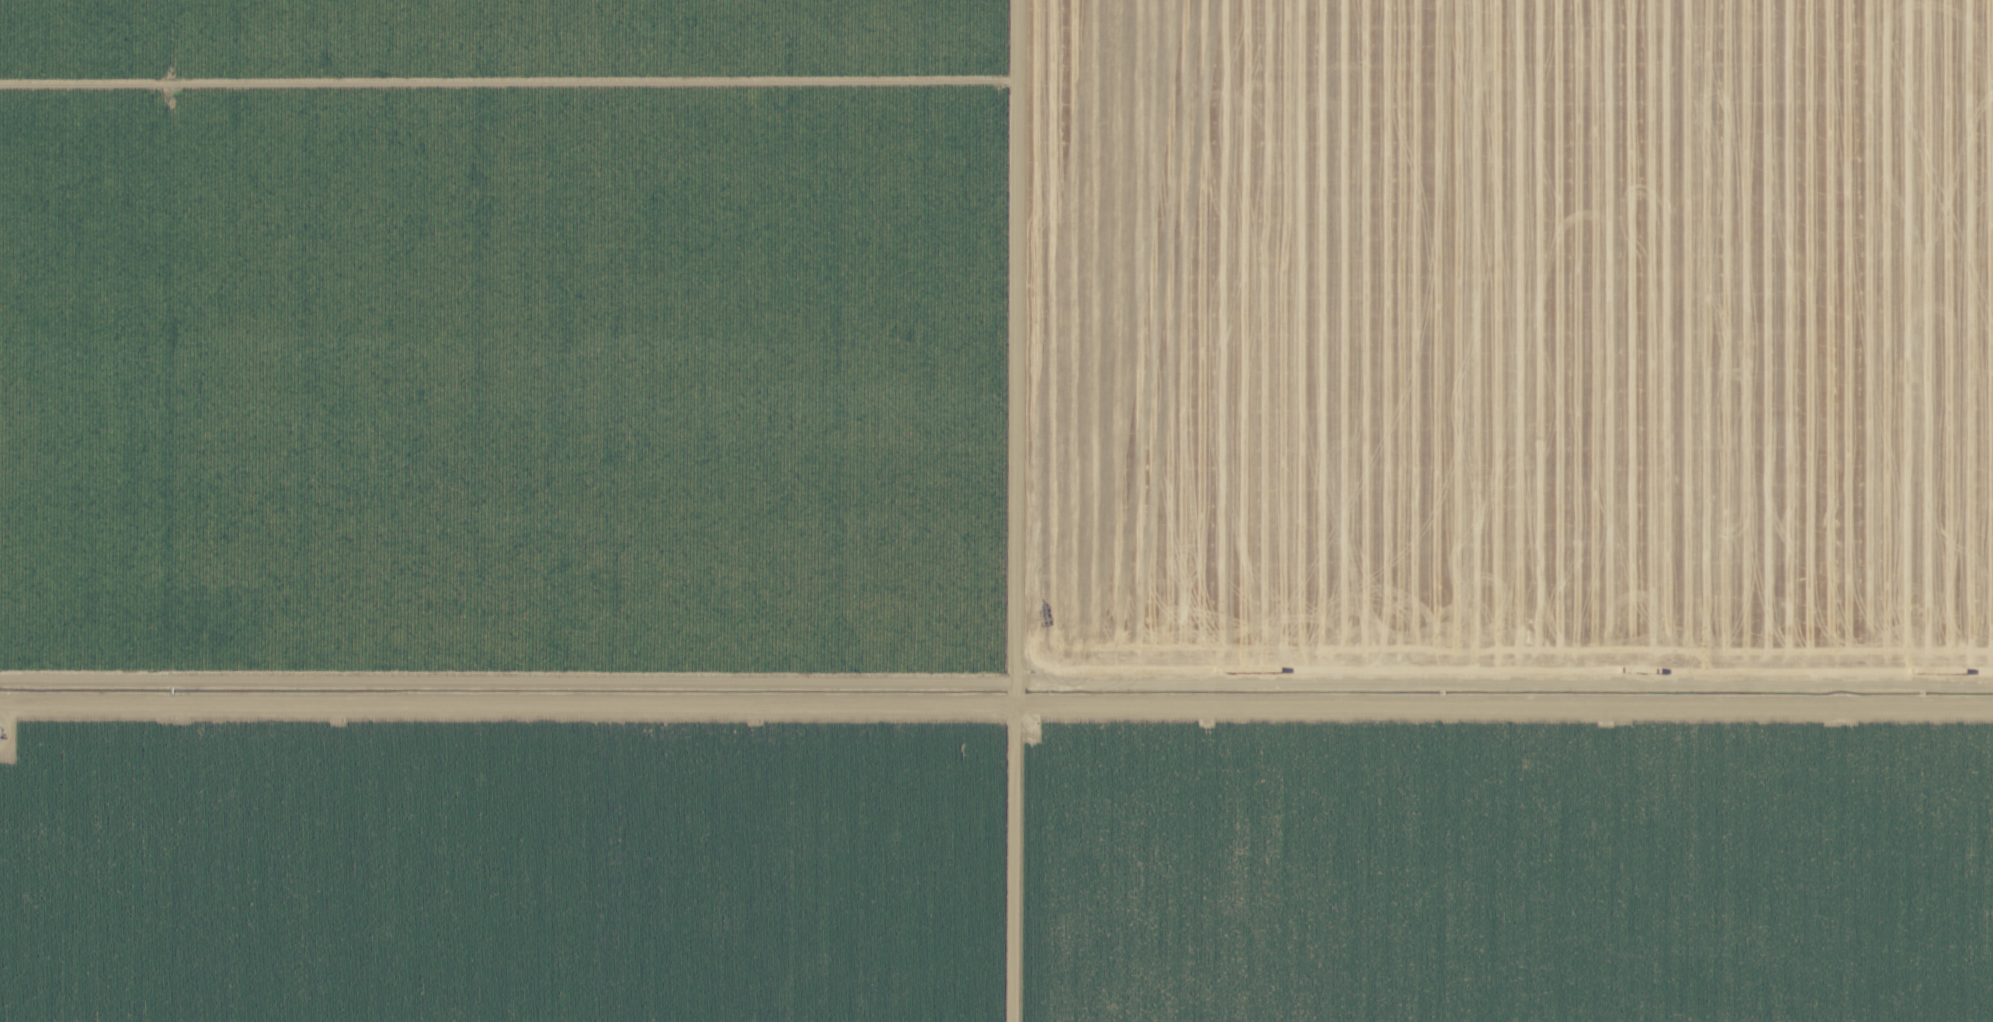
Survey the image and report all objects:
road: (996, 717)

